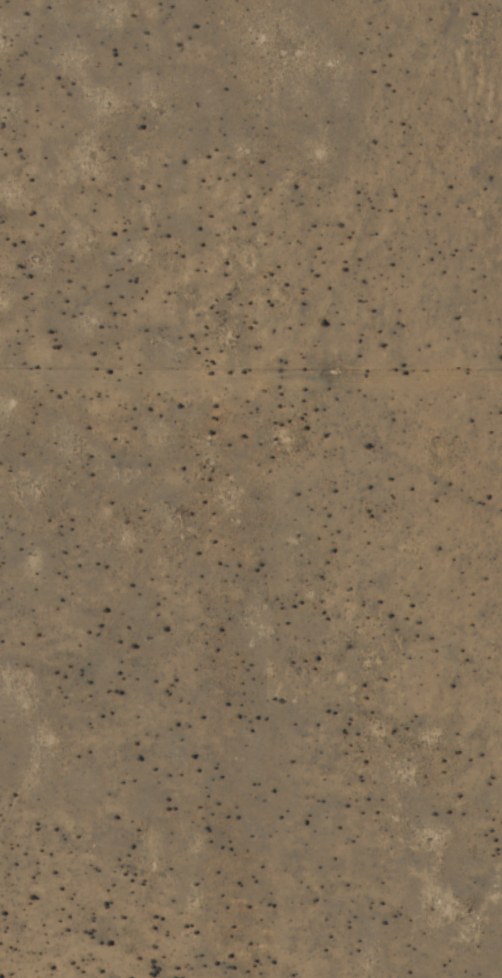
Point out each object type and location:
road: (423, 368)
road: (344, 369)

